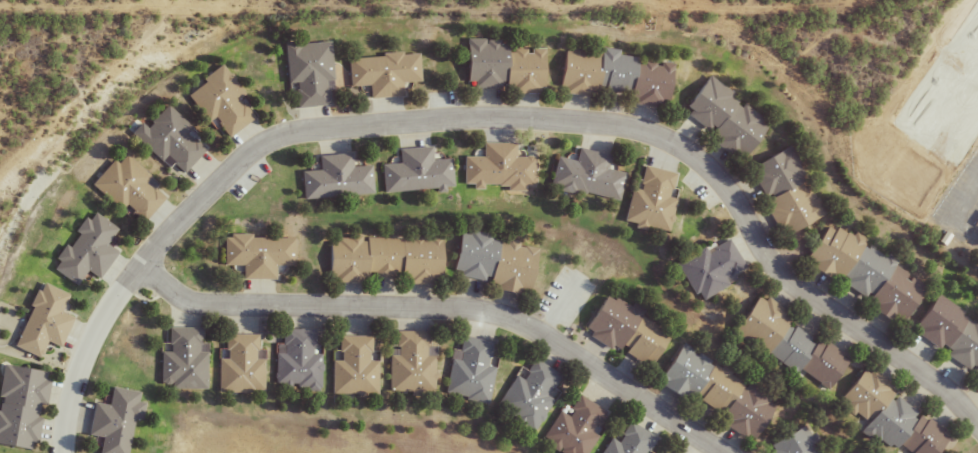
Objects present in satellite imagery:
building: (500, 67)
building: (304, 72)
building: (378, 73)
building: (612, 77)
building: (216, 102)
building: (720, 118)
road: (594, 121)
building: (165, 140)
building: (495, 168)
building: (411, 172)
building: (582, 176)
building: (331, 178)
building: (124, 188)
building: (780, 191)
building: (647, 199)
building: (81, 250)
building: (253, 254)
building: (379, 259)
building: (491, 262)
building: (706, 268)
building: (859, 273)
road: (442, 308)
building: (39, 321)
building: (622, 331)
building: (948, 336)
building: (784, 343)
road: (81, 350)
building: (293, 359)
building: (179, 360)
building: (406, 362)
building: (235, 364)
building: (350, 366)
building: (466, 370)
building: (712, 392)
building: (524, 396)
building: (18, 407)
building: (887, 418)
building: (110, 420)
building: (570, 428)
building: (626, 441)
building: (788, 443)

